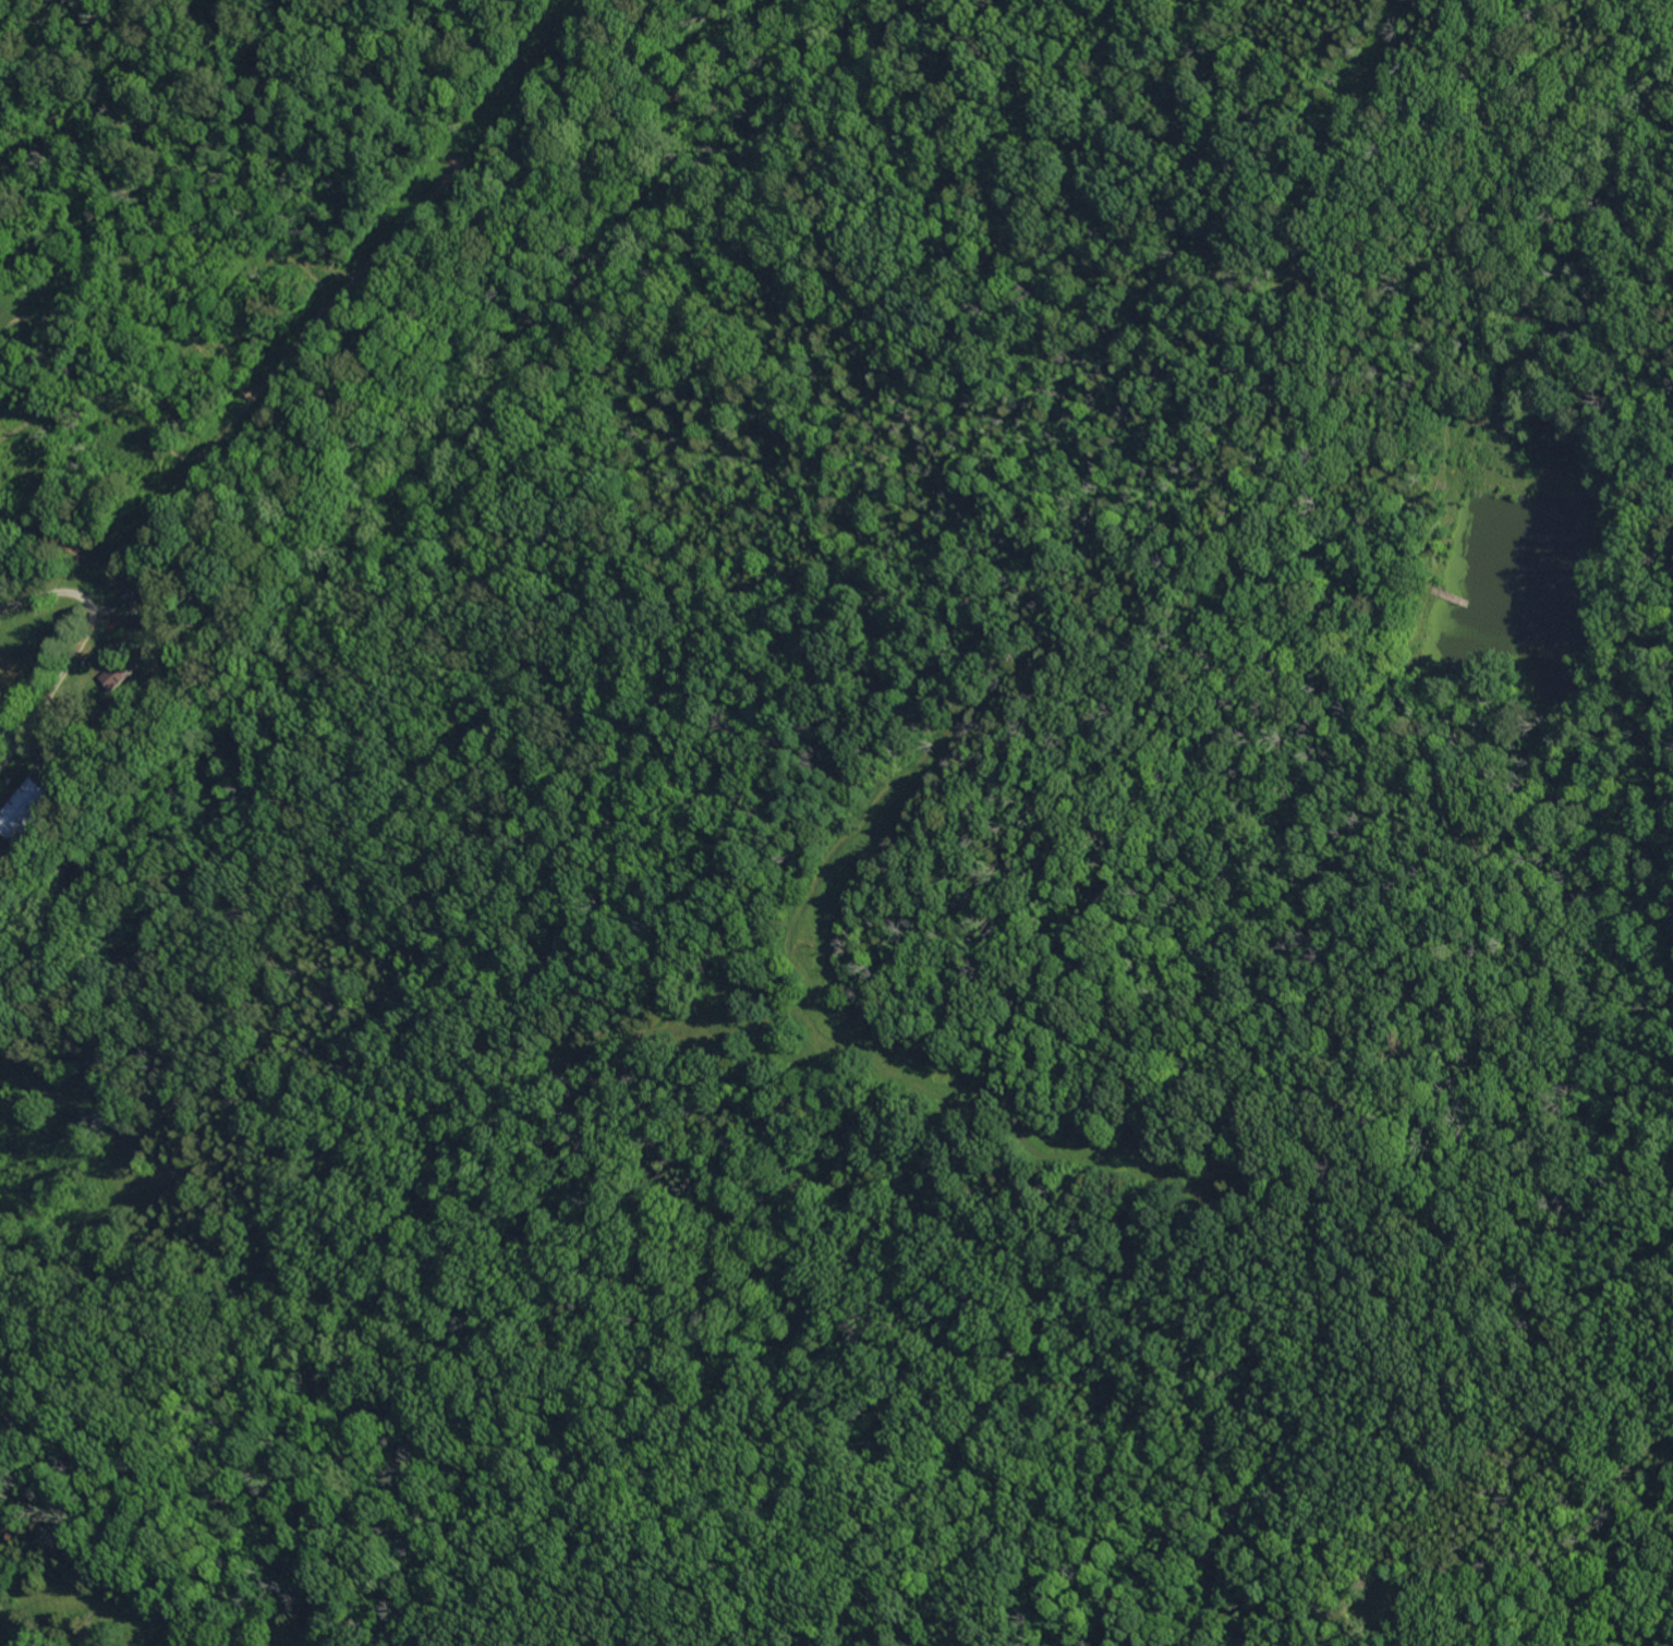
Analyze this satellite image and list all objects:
building: (0, 670)
road: (4, 726)
building: (27, 809)

